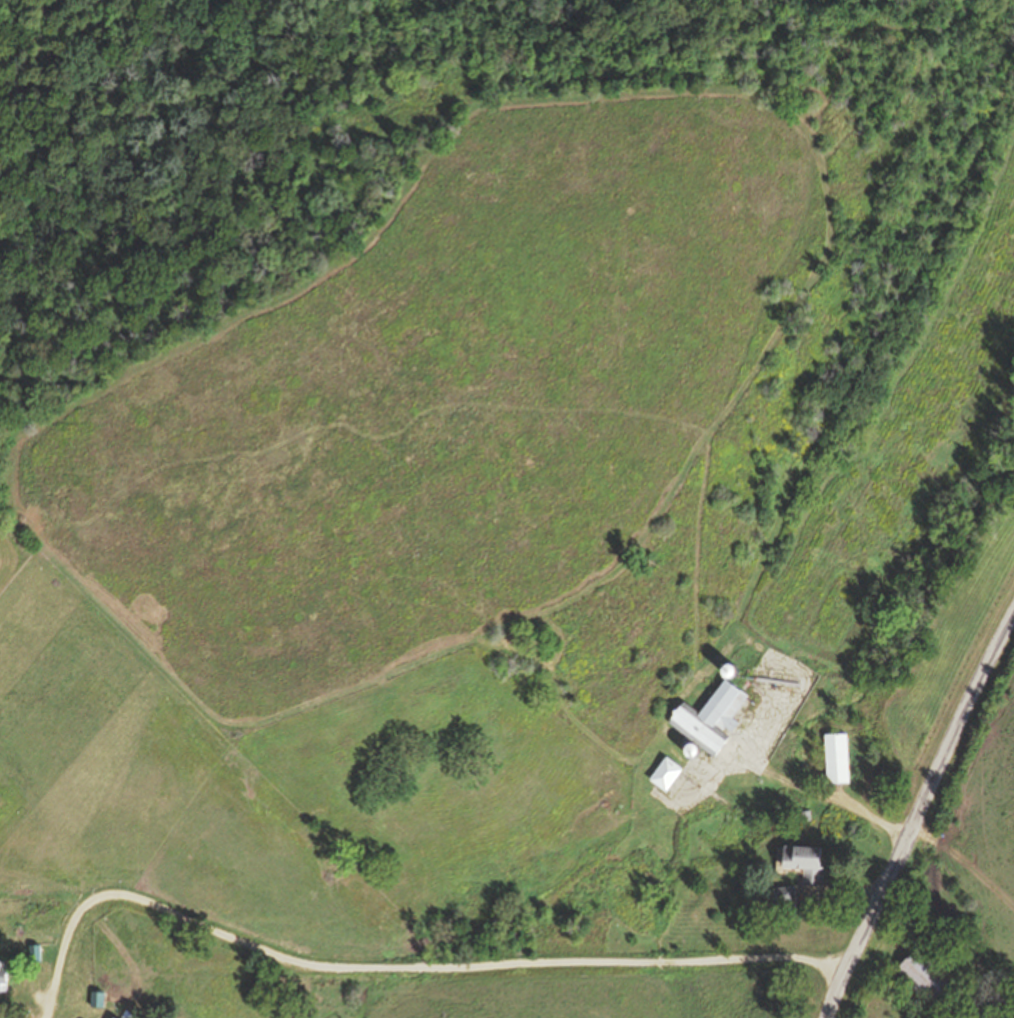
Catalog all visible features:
building: (712, 716)
building: (838, 758)
building: (667, 772)
road: (918, 816)
building: (806, 862)
building: (783, 899)
road: (64, 949)
road: (127, 957)
road: (469, 968)
building: (3, 976)
building: (930, 981)
building: (98, 999)
building: (129, 1015)
building: (113, 1017)

